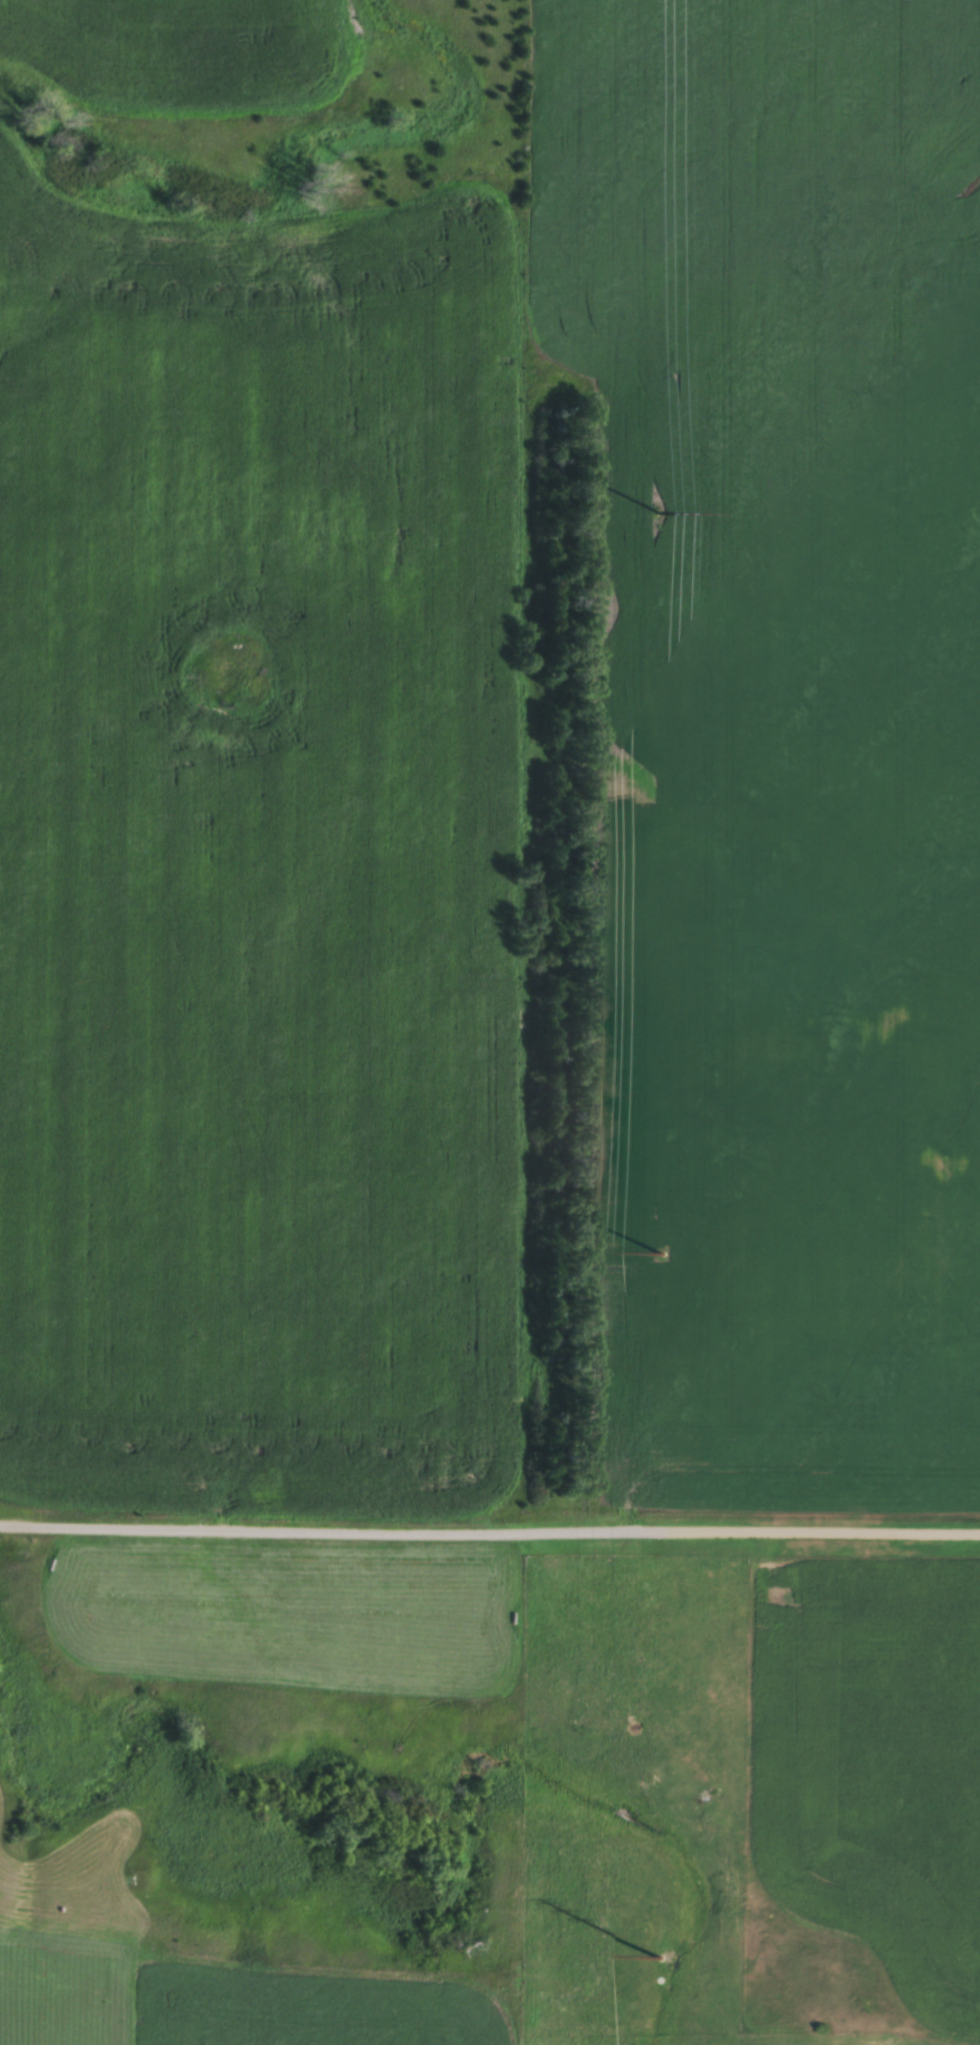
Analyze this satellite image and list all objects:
power tower: (661, 511)
power tower: (661, 1253)
road: (489, 1531)
power tower: (661, 1958)

